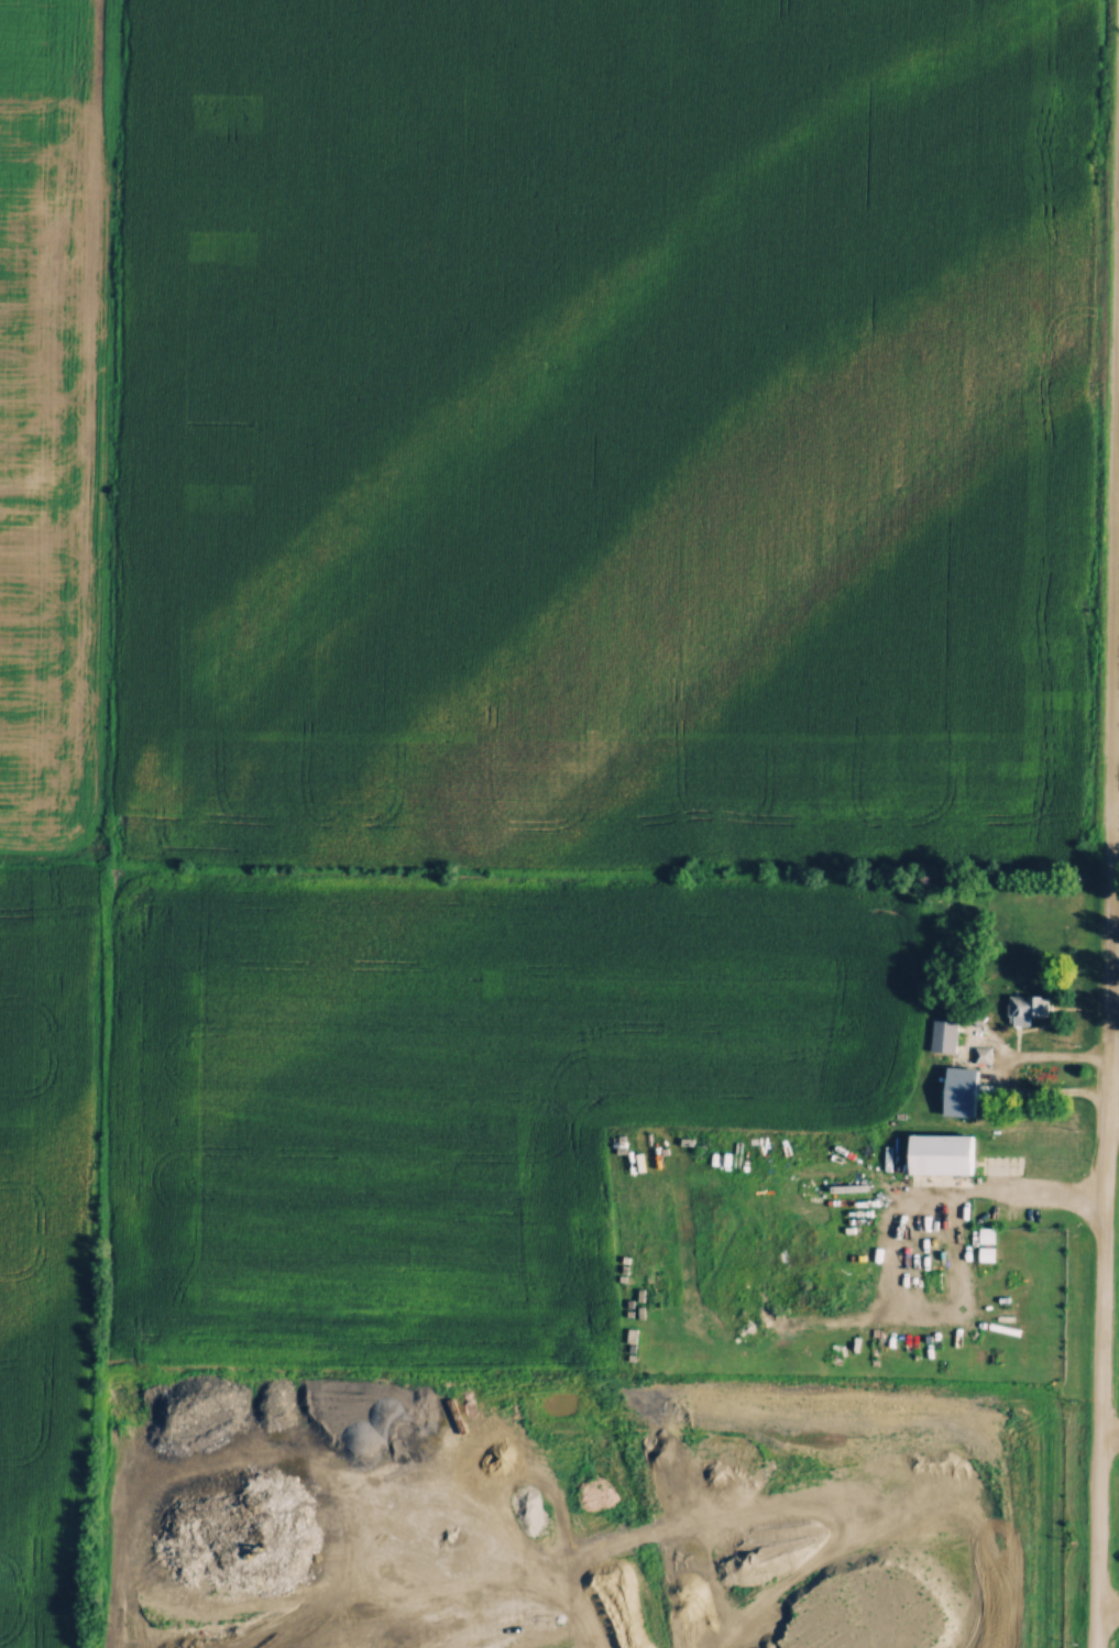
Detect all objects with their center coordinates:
road: (1107, 954)
building: (1023, 1006)
building: (981, 1053)
road: (1003, 1077)
building: (956, 1090)
building: (935, 1153)
road: (1013, 1191)
road: (1109, 1431)
road: (1108, 1608)

